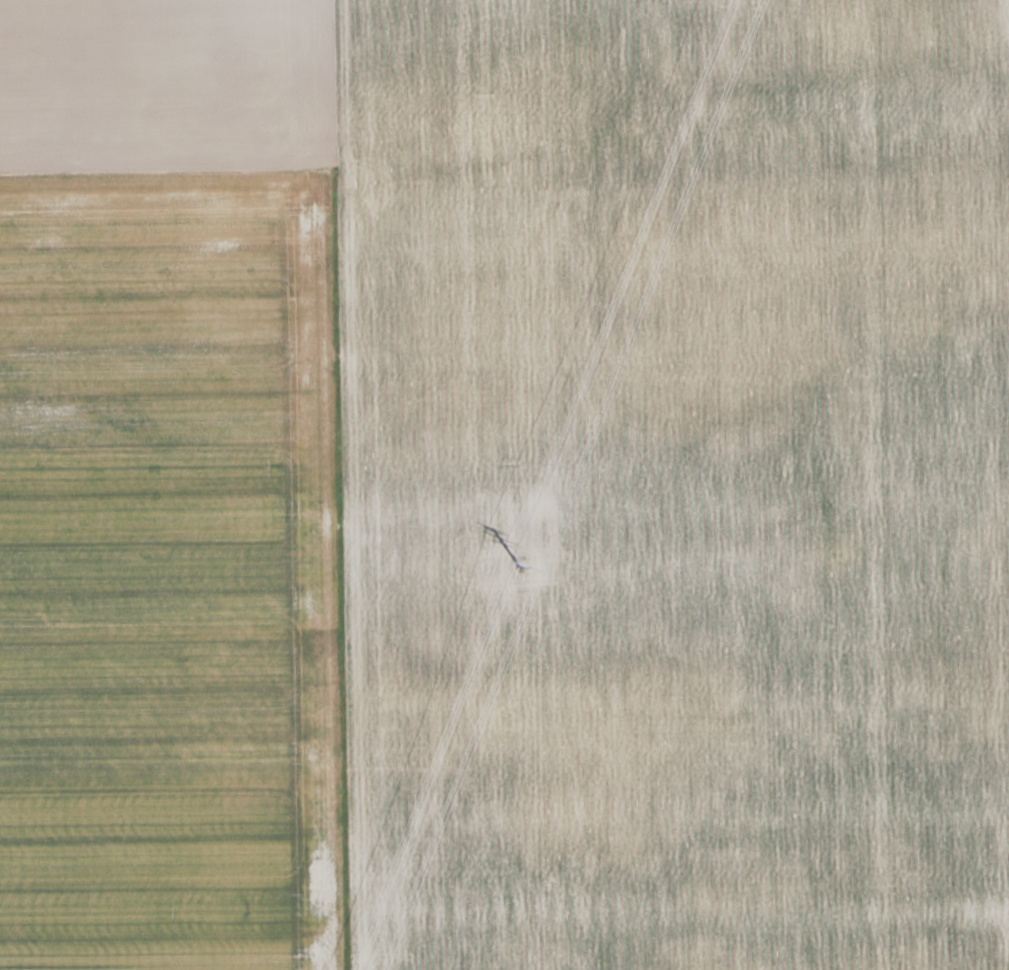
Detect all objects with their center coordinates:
power tower: (513, 564)

